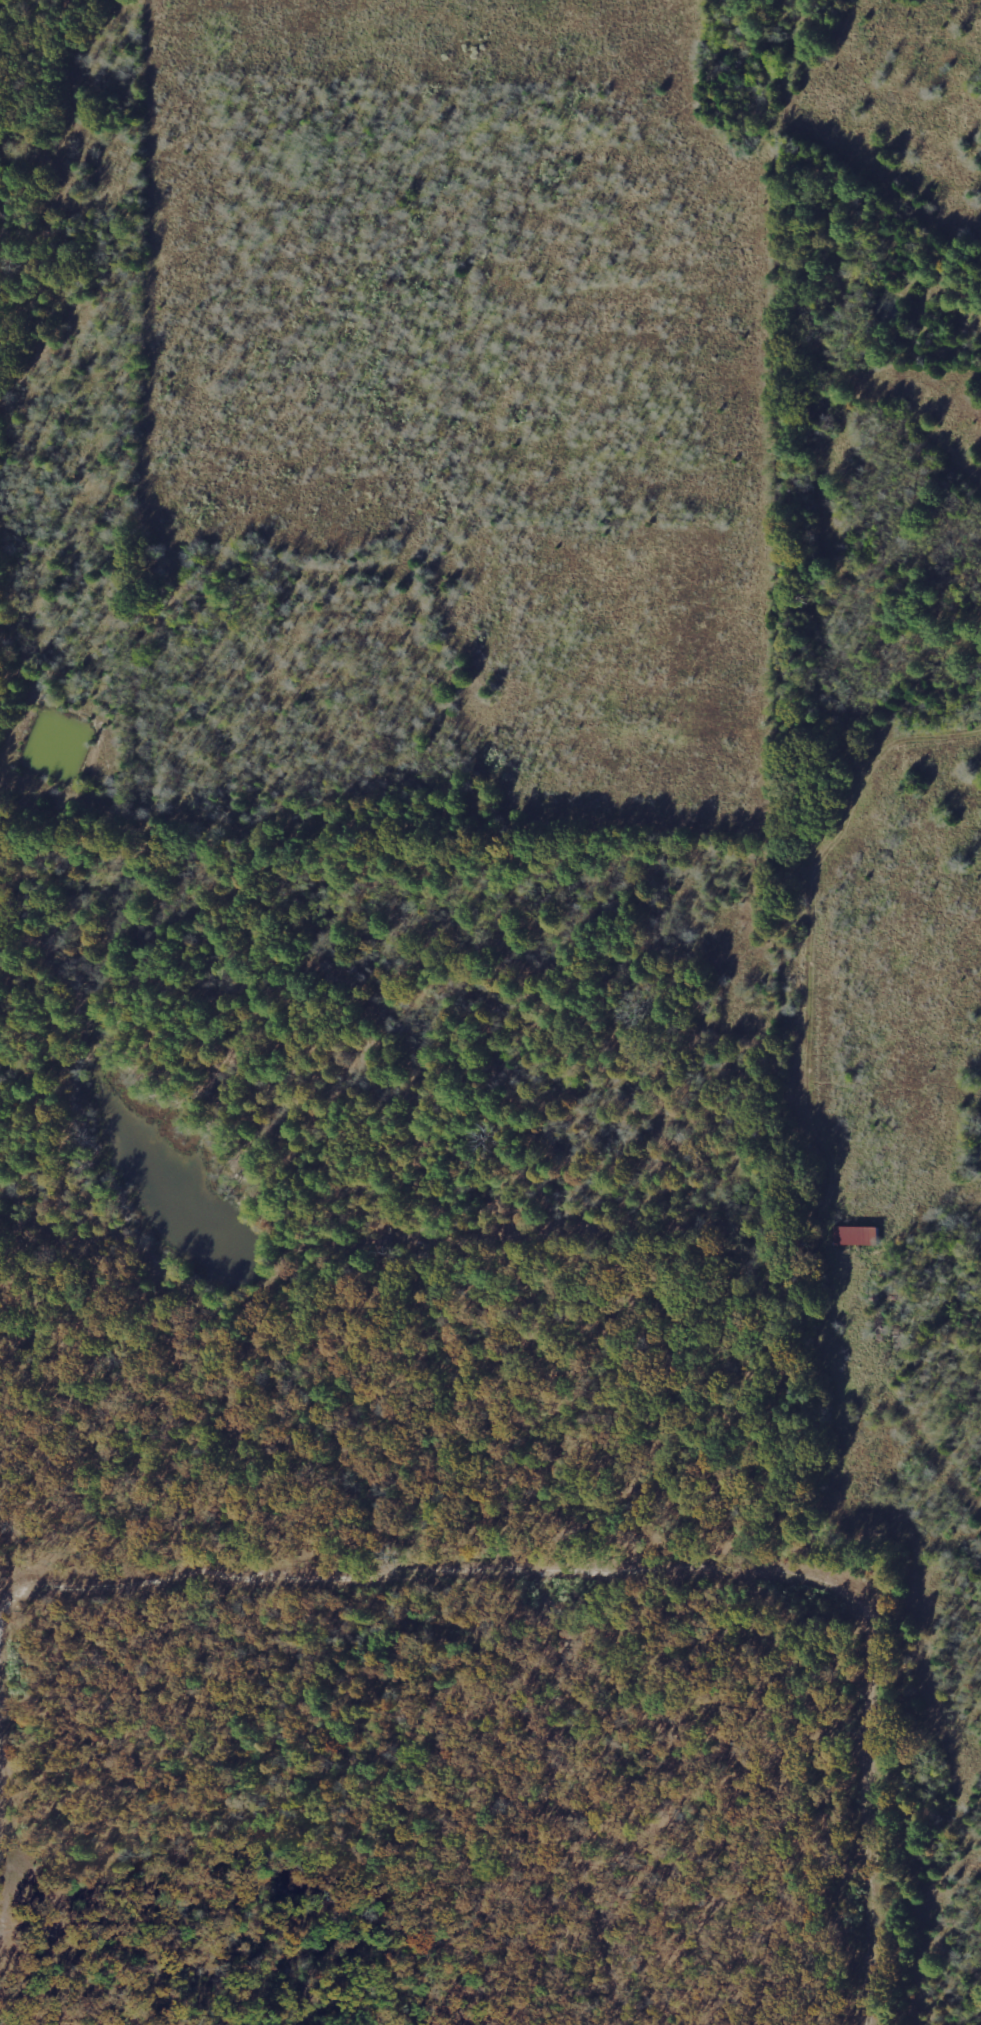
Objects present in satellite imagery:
building: (862, 1236)

